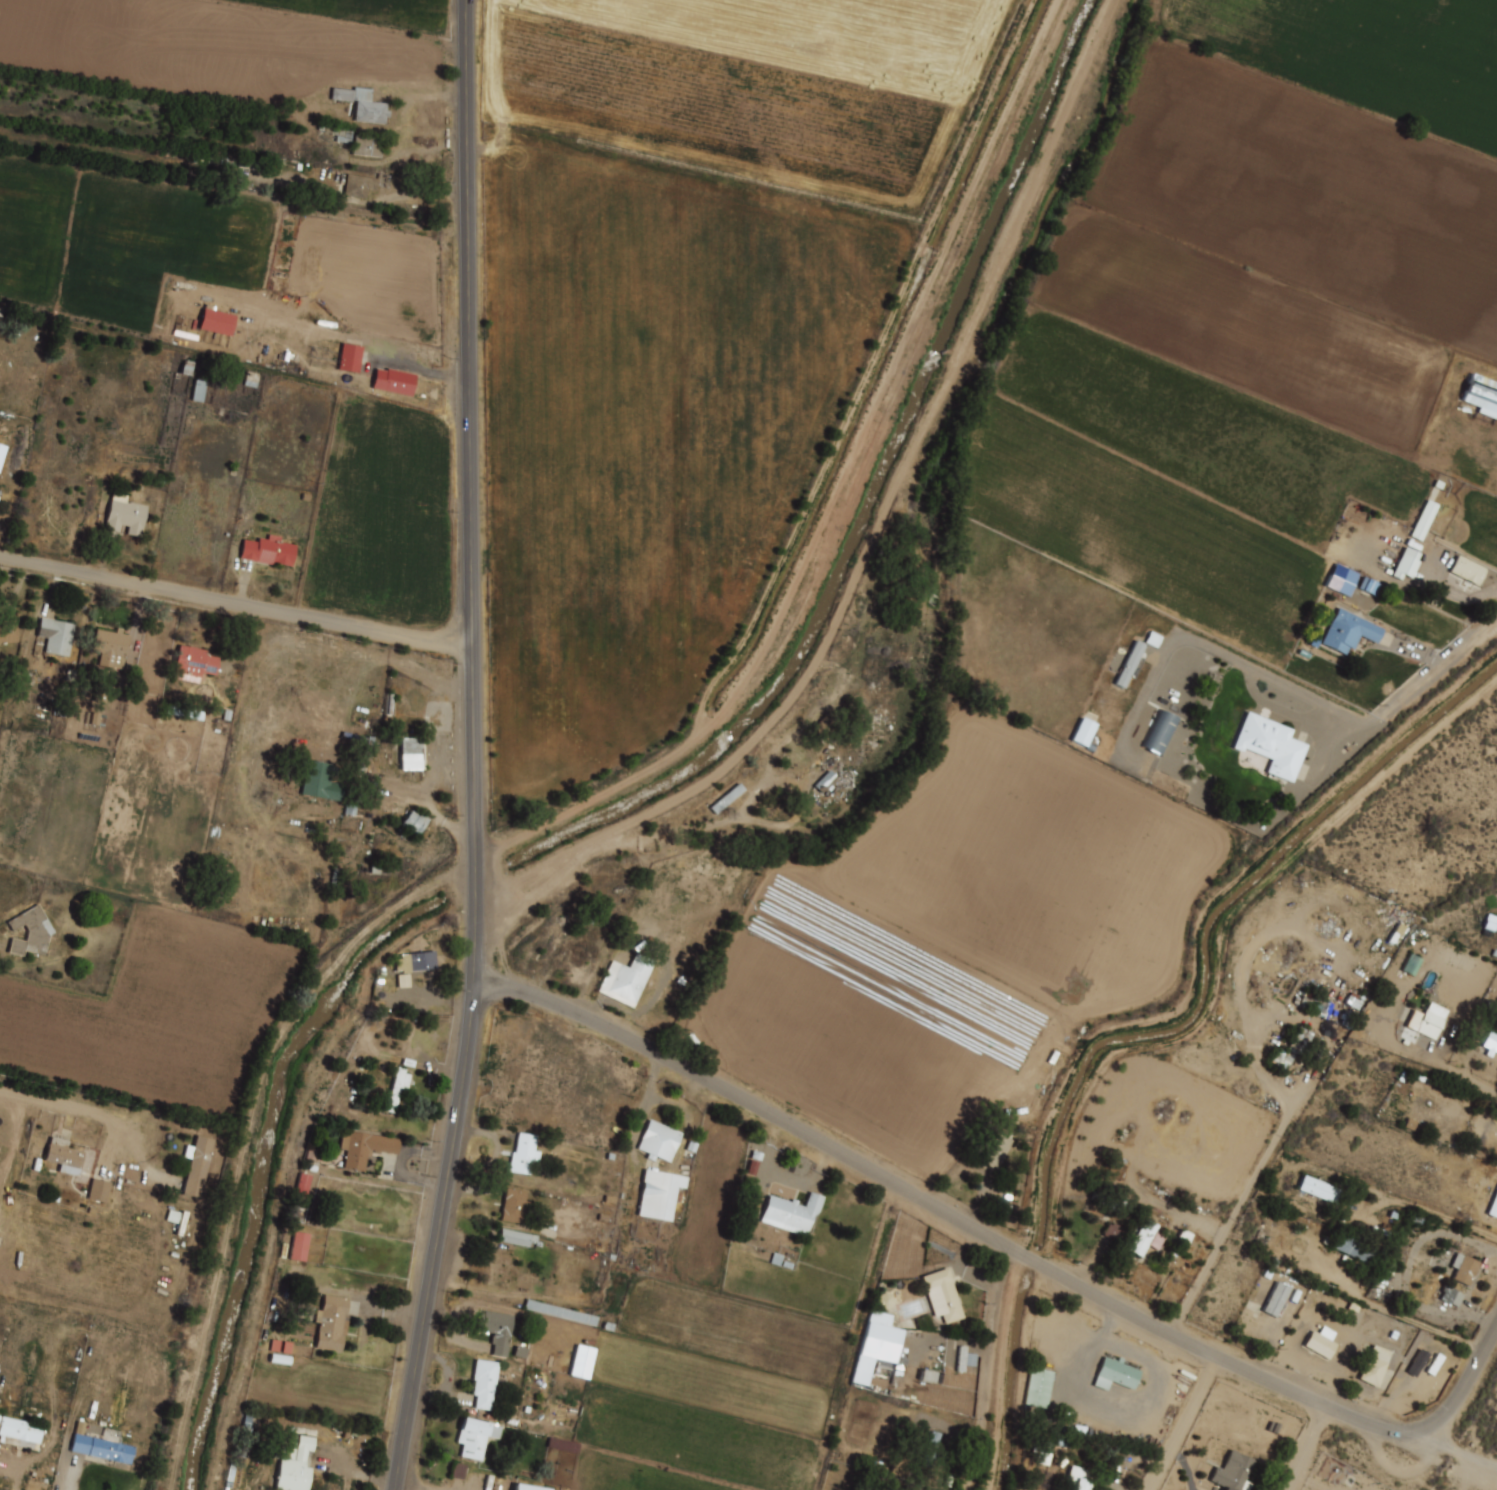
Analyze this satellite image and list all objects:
building: (364, 106)
building: (340, 134)
building: (367, 147)
building: (255, 167)
building: (359, 186)
building: (14, 316)
building: (216, 321)
building: (349, 357)
building: (394, 382)
building: (197, 389)
building: (1481, 395)
building: (1, 453)
building: (125, 516)
building: (1423, 519)
building: (269, 552)
building: (1406, 563)
building: (1469, 570)
building: (1349, 582)
road: (236, 600)
building: (1350, 631)
building: (7, 632)
building: (56, 637)
building: (111, 647)
building: (1130, 663)
building: (193, 665)
road: (1442, 665)
building: (822, 728)
building: (1083, 731)
building: (1159, 732)
building: (1272, 744)
road: (474, 748)
building: (412, 754)
building: (320, 779)
building: (824, 780)
building: (728, 798)
building: (414, 823)
road: (568, 867)
building: (1489, 921)
building: (30, 931)
building: (416, 962)
building: (1410, 963)
building: (625, 980)
building: (1103, 991)
building: (1429, 1020)
building: (1491, 1043)
building: (1298, 1046)
road: (1469, 1078)
building: (397, 1089)
road: (71, 1105)
building: (659, 1141)
building: (364, 1147)
building: (993, 1147)
building: (524, 1155)
building: (63, 1156)
building: (197, 1168)
building: (302, 1184)
building: (98, 1190)
building: (1321, 1190)
building: (657, 1193)
road: (1242, 1204)
building: (514, 1206)
building: (1494, 1208)
road: (1430, 1212)
building: (793, 1213)
building: (1116, 1232)
building: (516, 1237)
building: (1144, 1238)
road: (1001, 1242)
building: (297, 1245)
building: (1355, 1248)
building: (499, 1267)
building: (1465, 1268)
building: (1450, 1295)
building: (943, 1296)
building: (560, 1312)
road: (1416, 1321)
building: (331, 1323)
building: (496, 1330)
building: (1323, 1342)
building: (875, 1344)
building: (966, 1359)
building: (580, 1361)
building: (1418, 1363)
building: (1376, 1365)
building: (1436, 1365)
road: (989, 1368)
building: (1117, 1374)
building: (485, 1383)
building: (1039, 1388)
road: (1184, 1423)
building: (20, 1430)
building: (476, 1437)
building: (930, 1447)
road: (1309, 1447)
building: (102, 1449)
building: (1041, 1451)
road: (1459, 1451)
building: (292, 1464)
building: (1234, 1472)
building: (1079, 1479)
building: (525, 1488)

